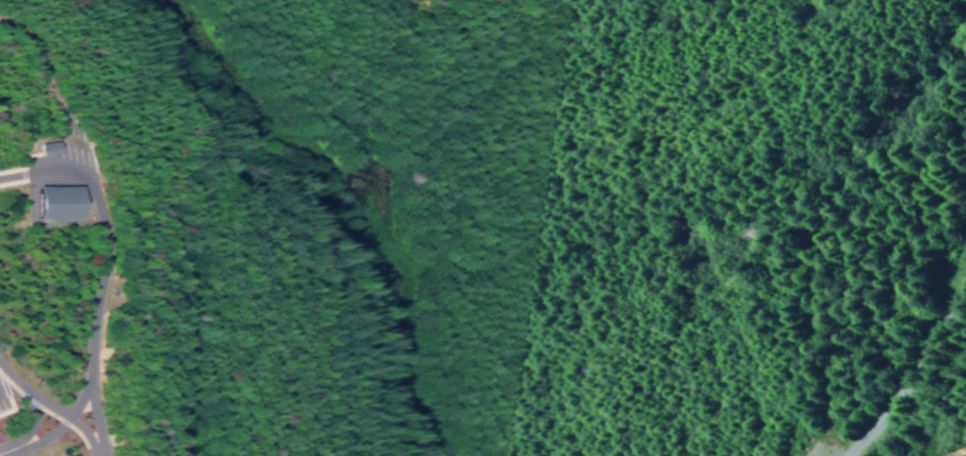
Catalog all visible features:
road: (964, 2)
road: (39, 85)
building: (44, 147)
building: (53, 201)
road: (94, 322)
road: (911, 377)

